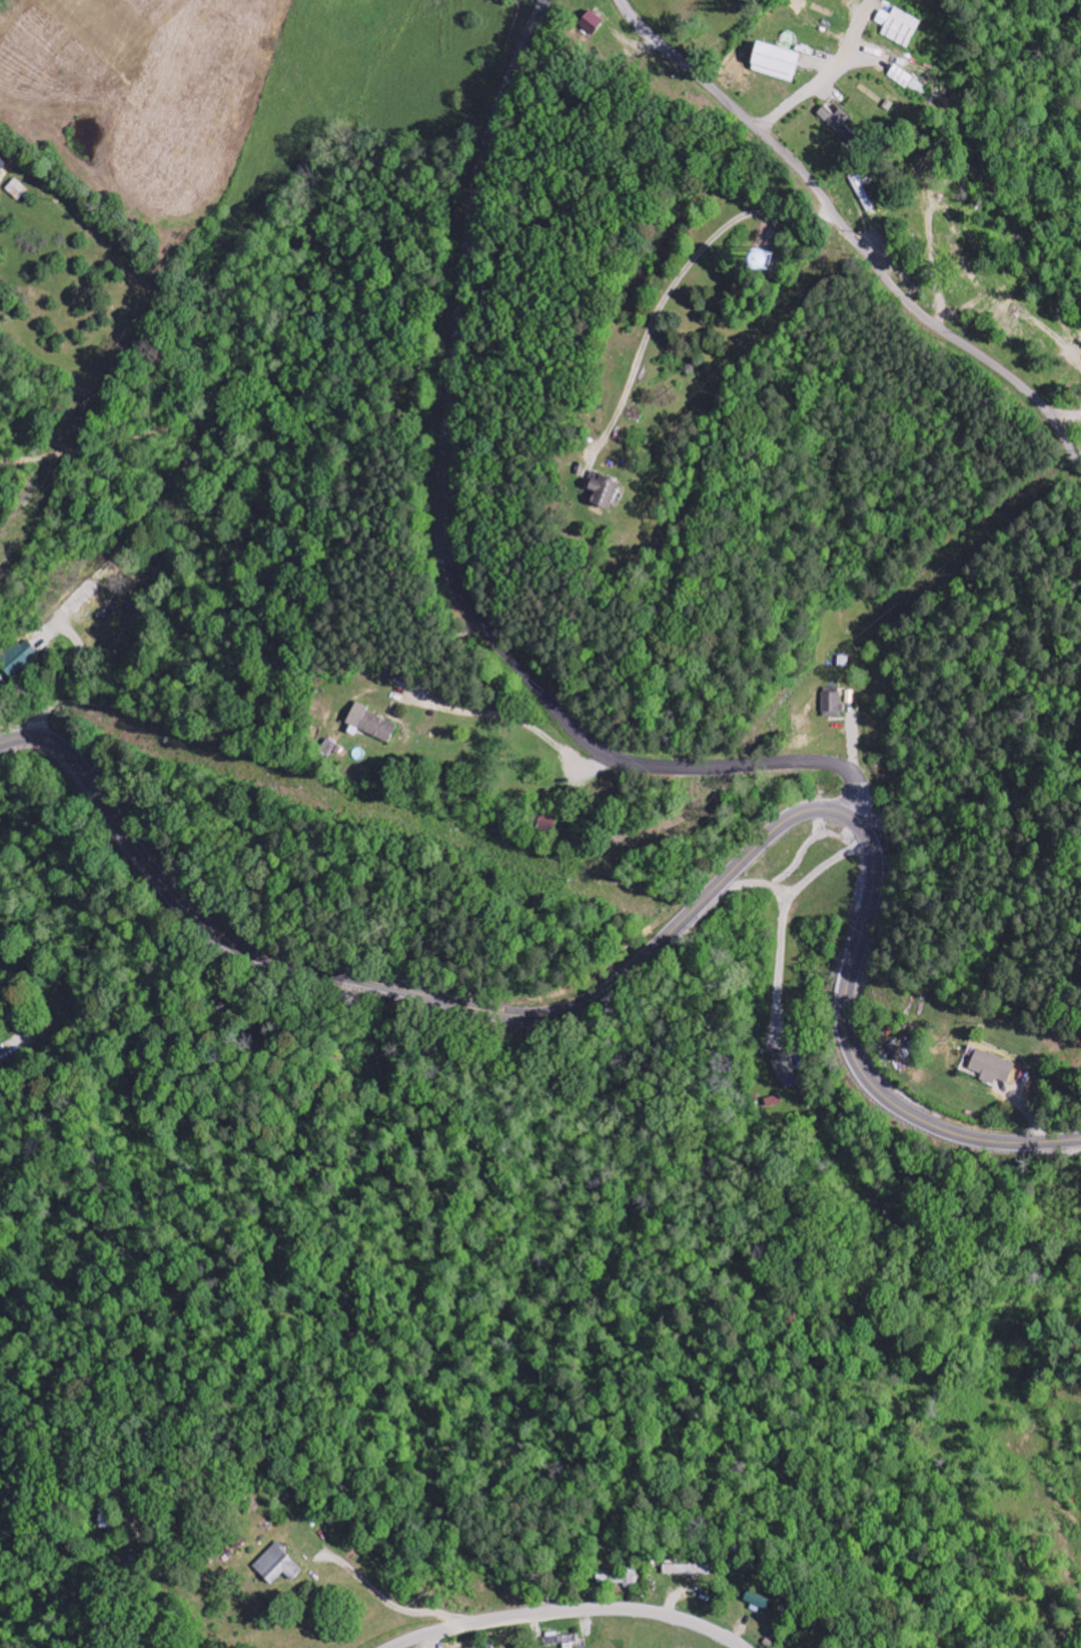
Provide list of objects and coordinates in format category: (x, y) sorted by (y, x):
building: (593, 23)
building: (900, 27)
building: (779, 62)
building: (908, 81)
building: (842, 127)
road: (851, 233)
building: (769, 260)
building: (1019, 310)
building: (1004, 317)
building: (605, 492)
road: (446, 553)
building: (83, 600)
building: (20, 658)
building: (833, 704)
building: (373, 724)
road: (648, 954)
building: (995, 1068)
building: (787, 1069)
building: (279, 1565)
building: (688, 1570)
building: (760, 1601)
road: (568, 1612)
building: (561, 1640)

